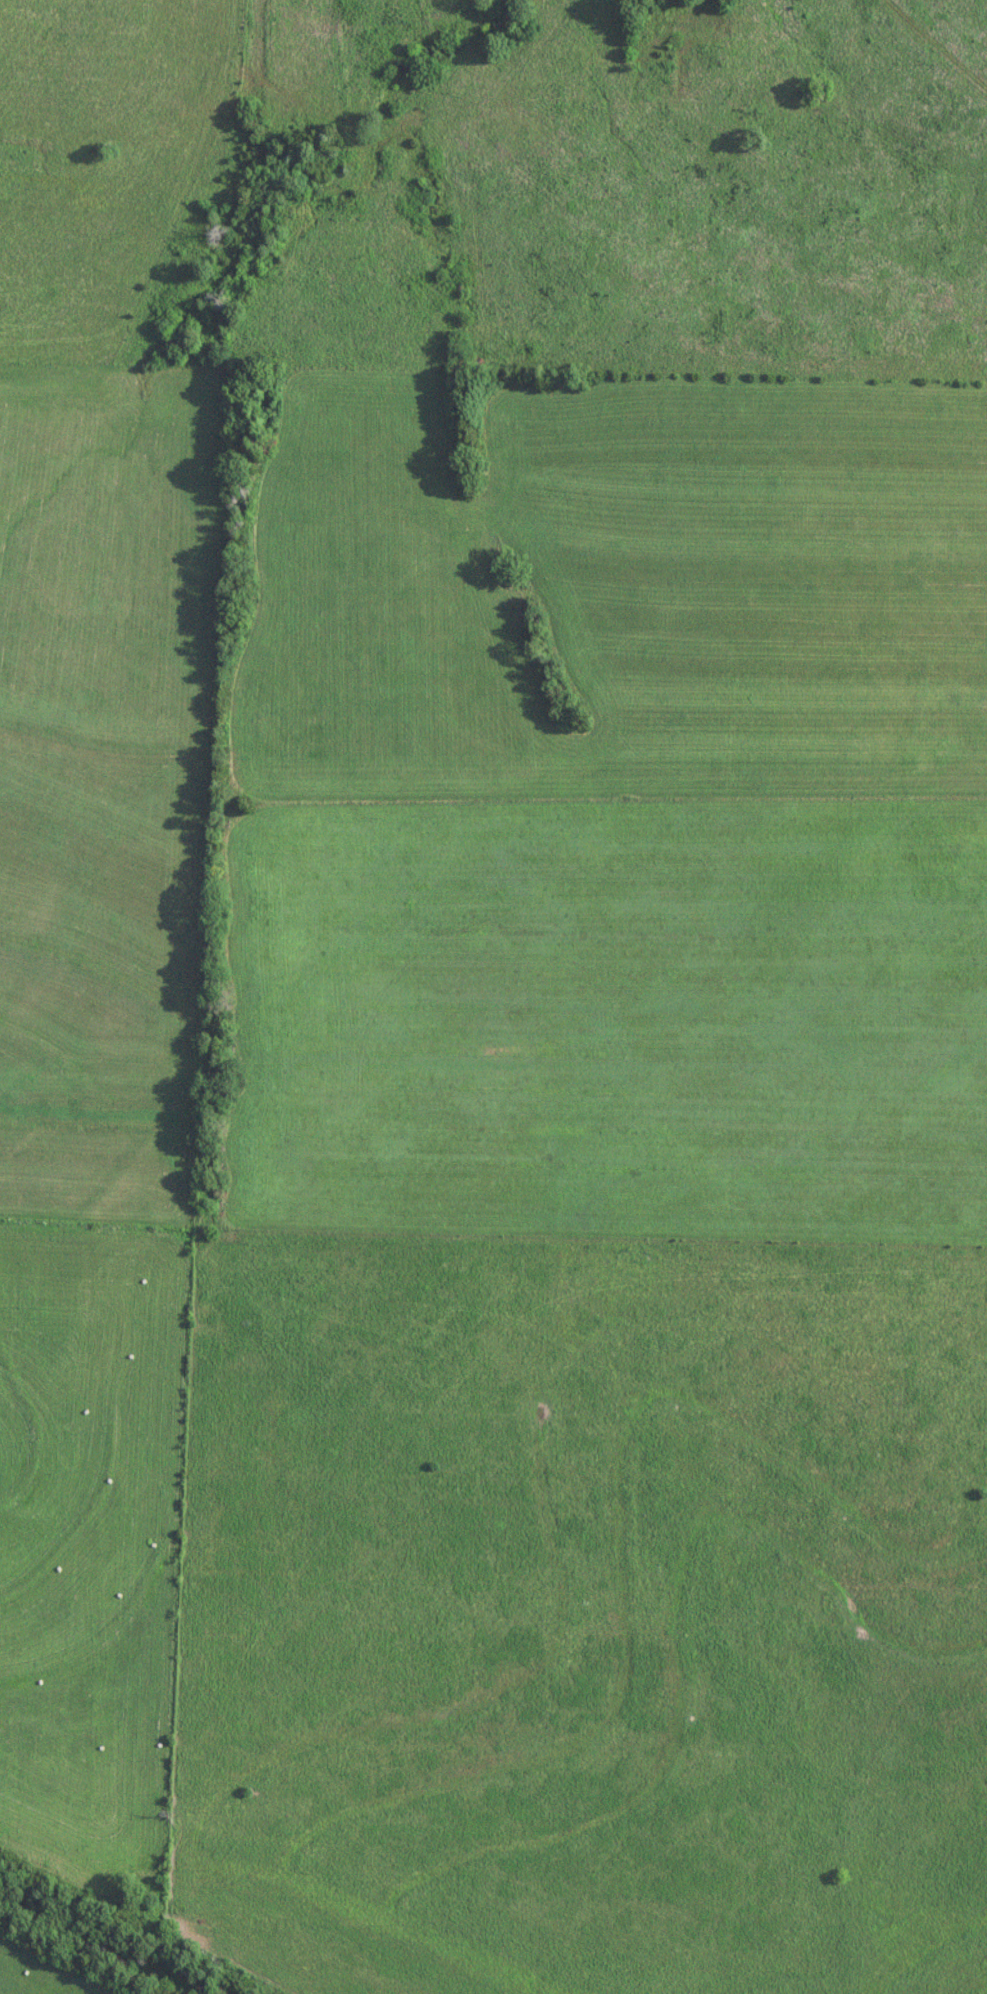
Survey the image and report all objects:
building: (903, 532)
building: (792, 596)
building: (697, 650)

